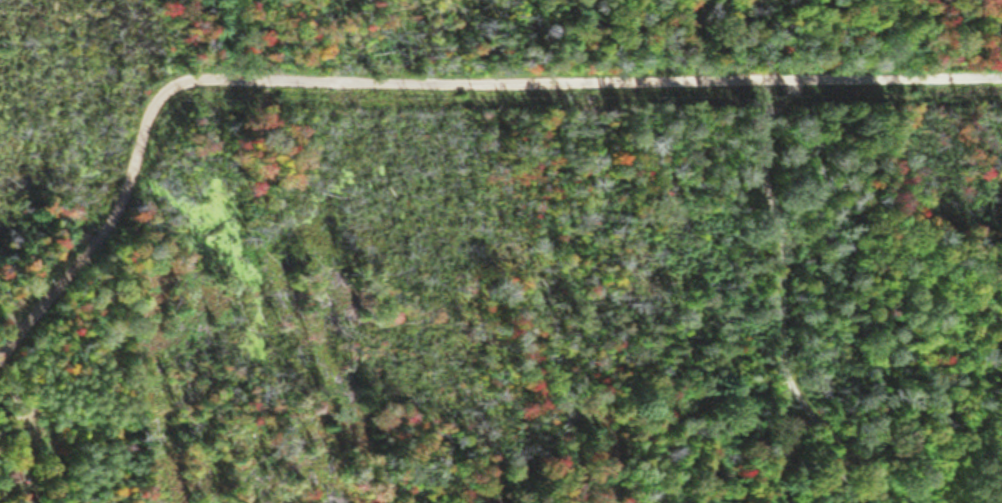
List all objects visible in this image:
road: (412, 37)

